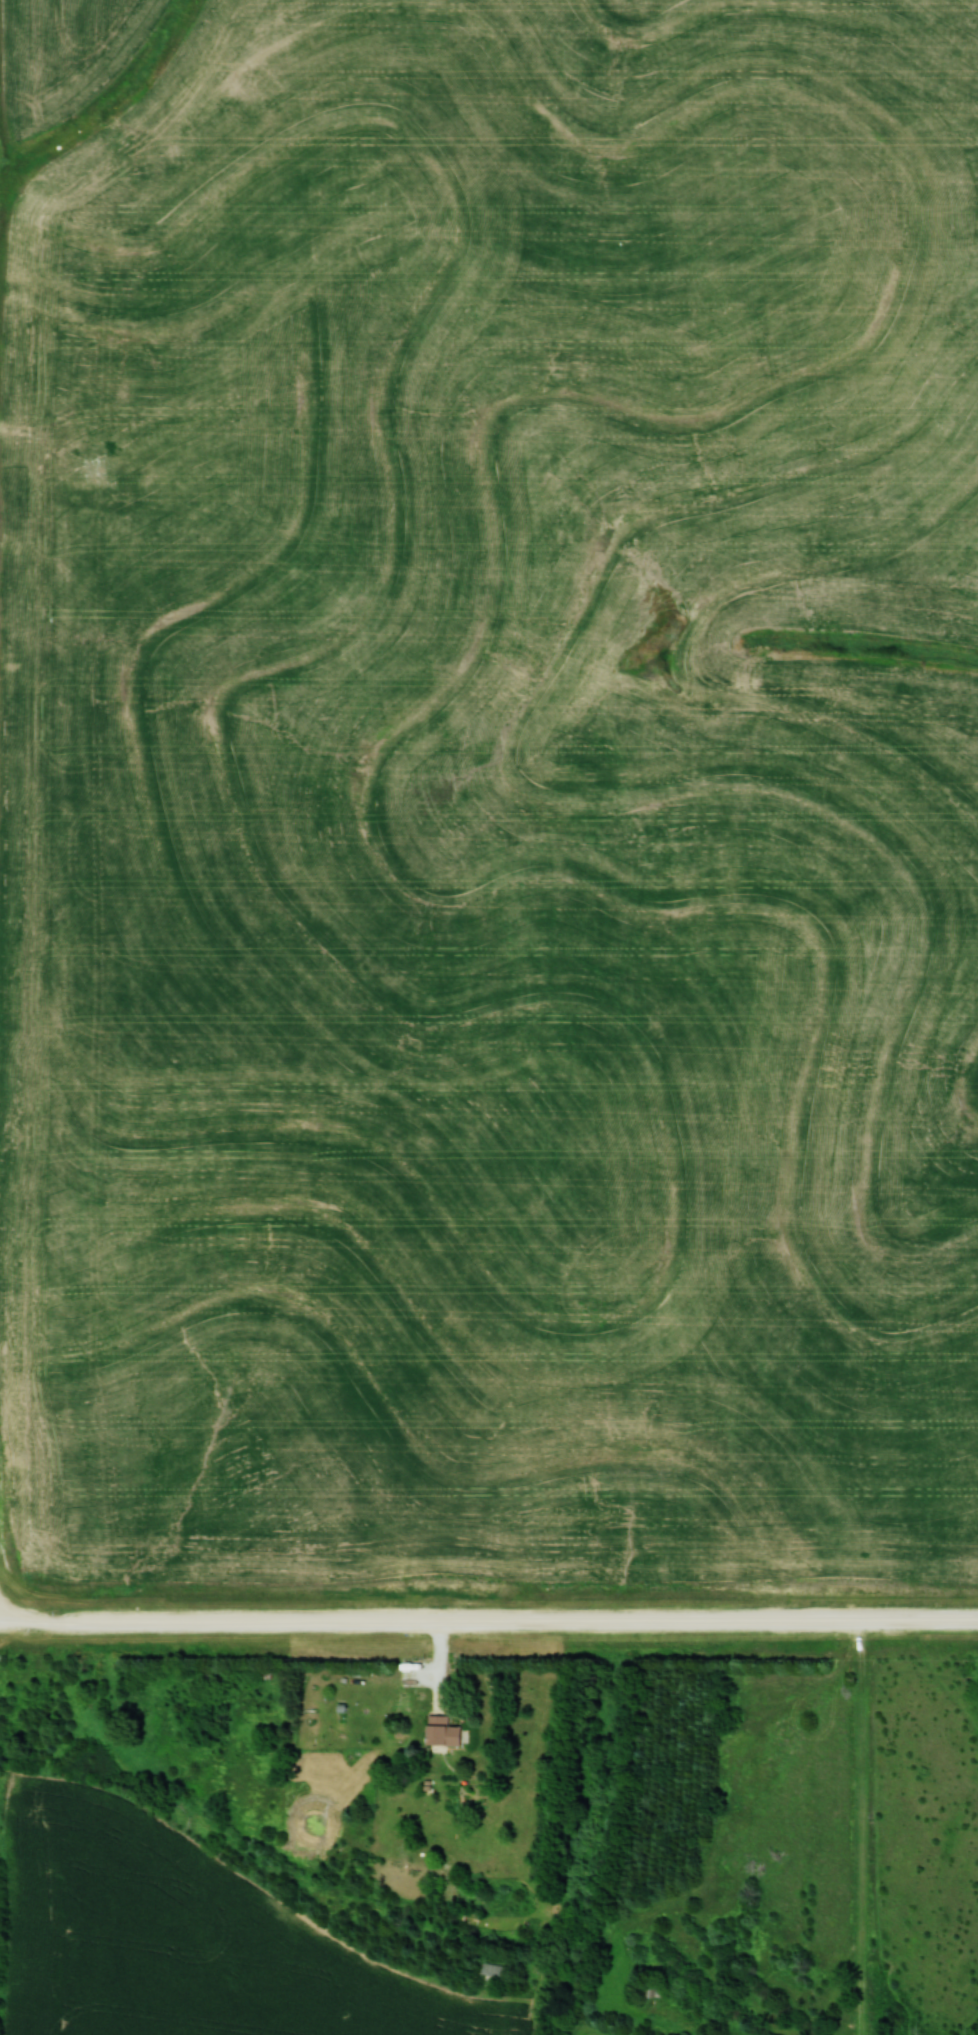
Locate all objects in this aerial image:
road: (489, 1617)
building: (440, 1730)
building: (490, 1969)

